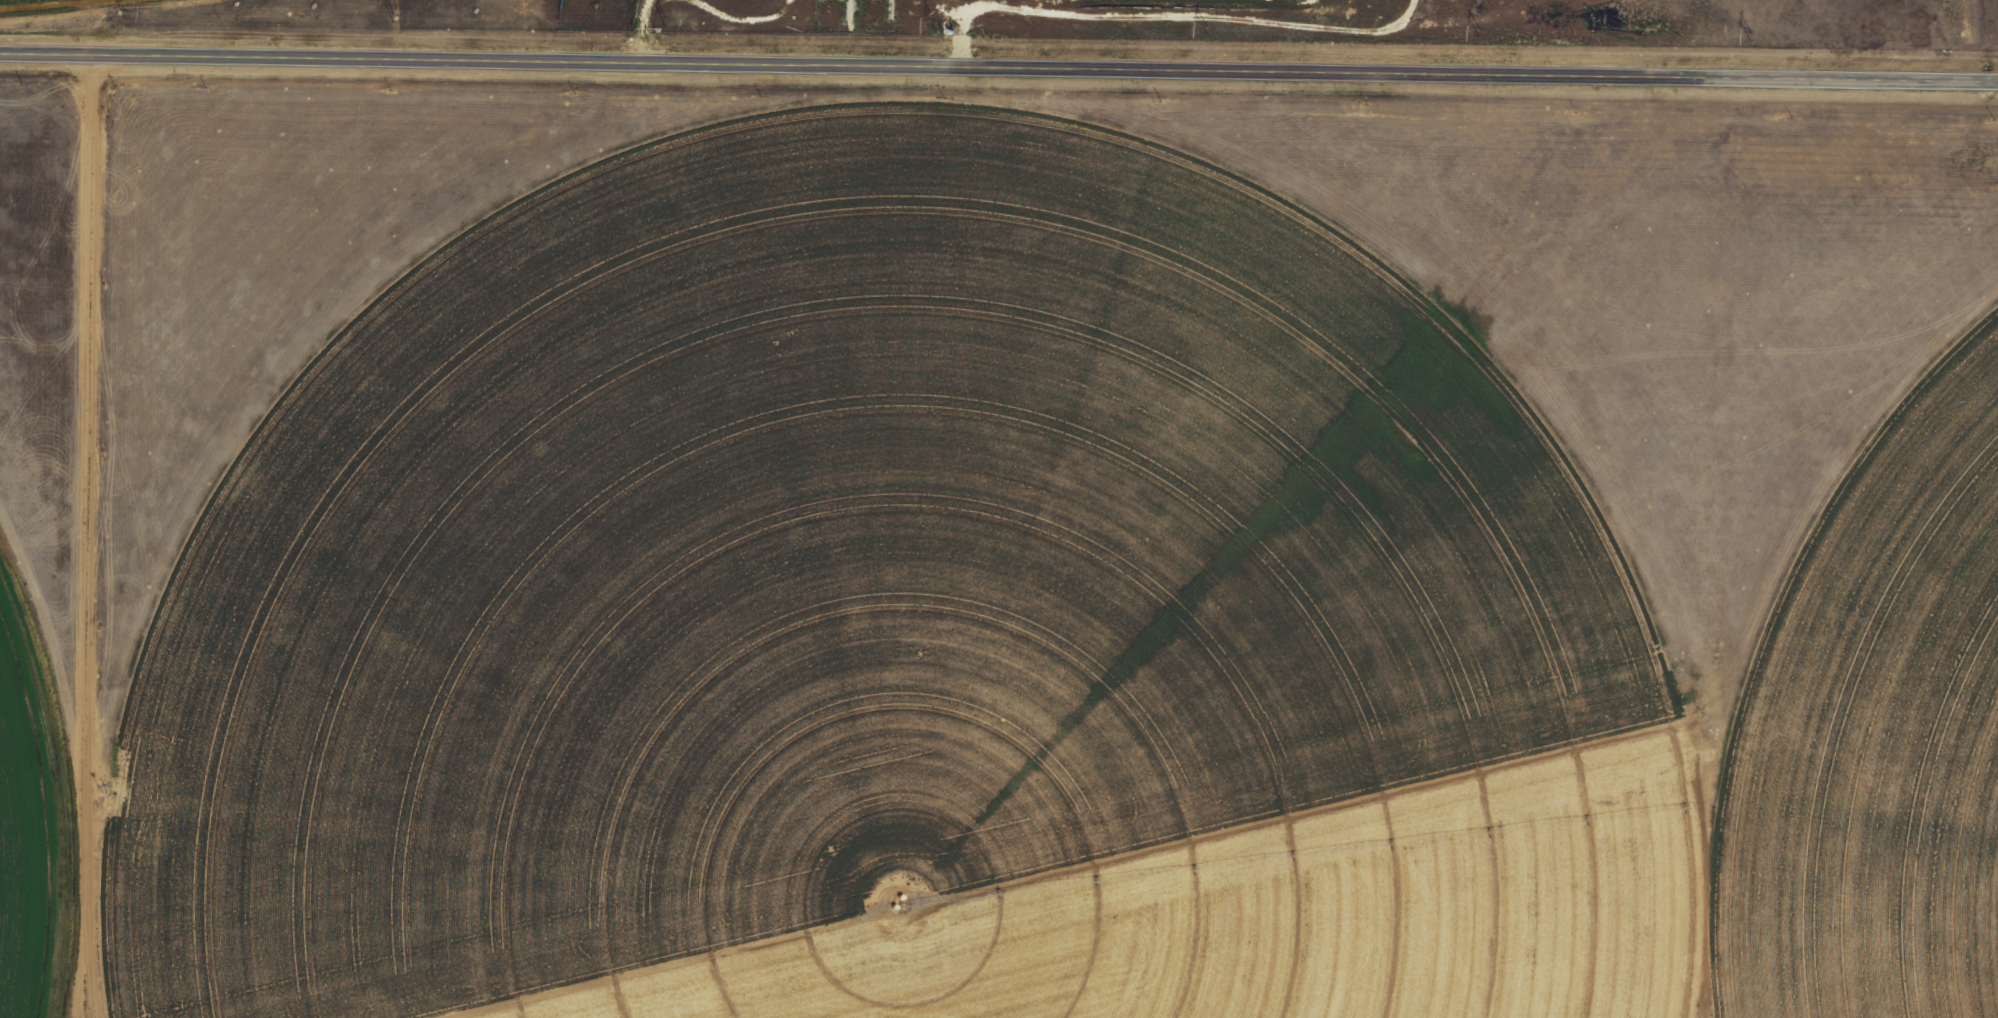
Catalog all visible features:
road: (999, 66)
road: (88, 536)

